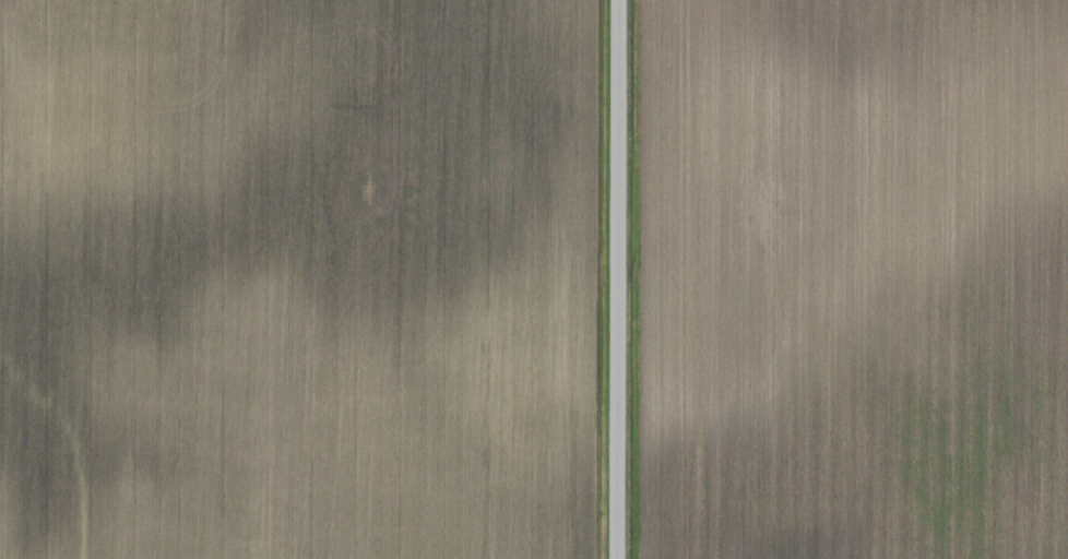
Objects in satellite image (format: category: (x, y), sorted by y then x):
road: (602, 278)

